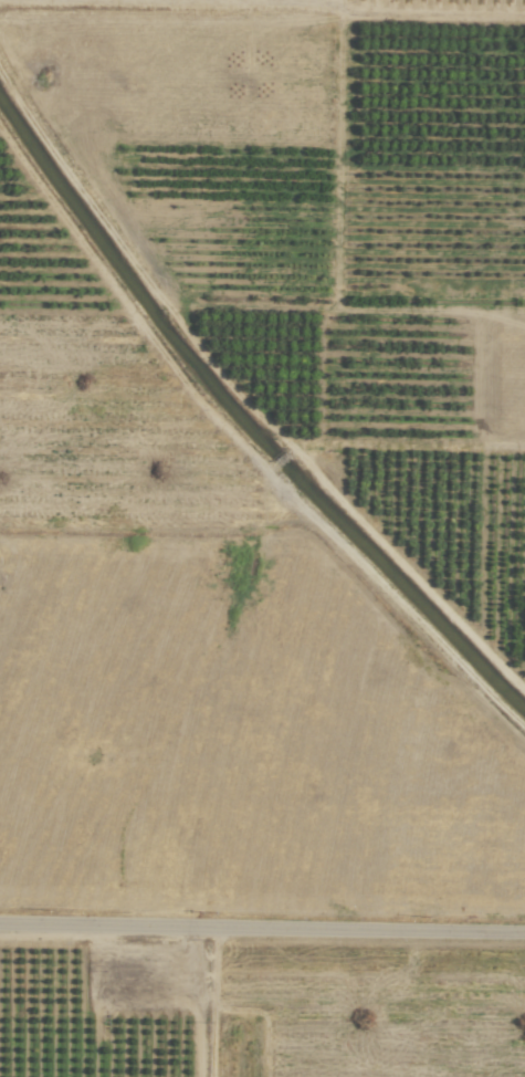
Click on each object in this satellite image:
road: (262, 933)

